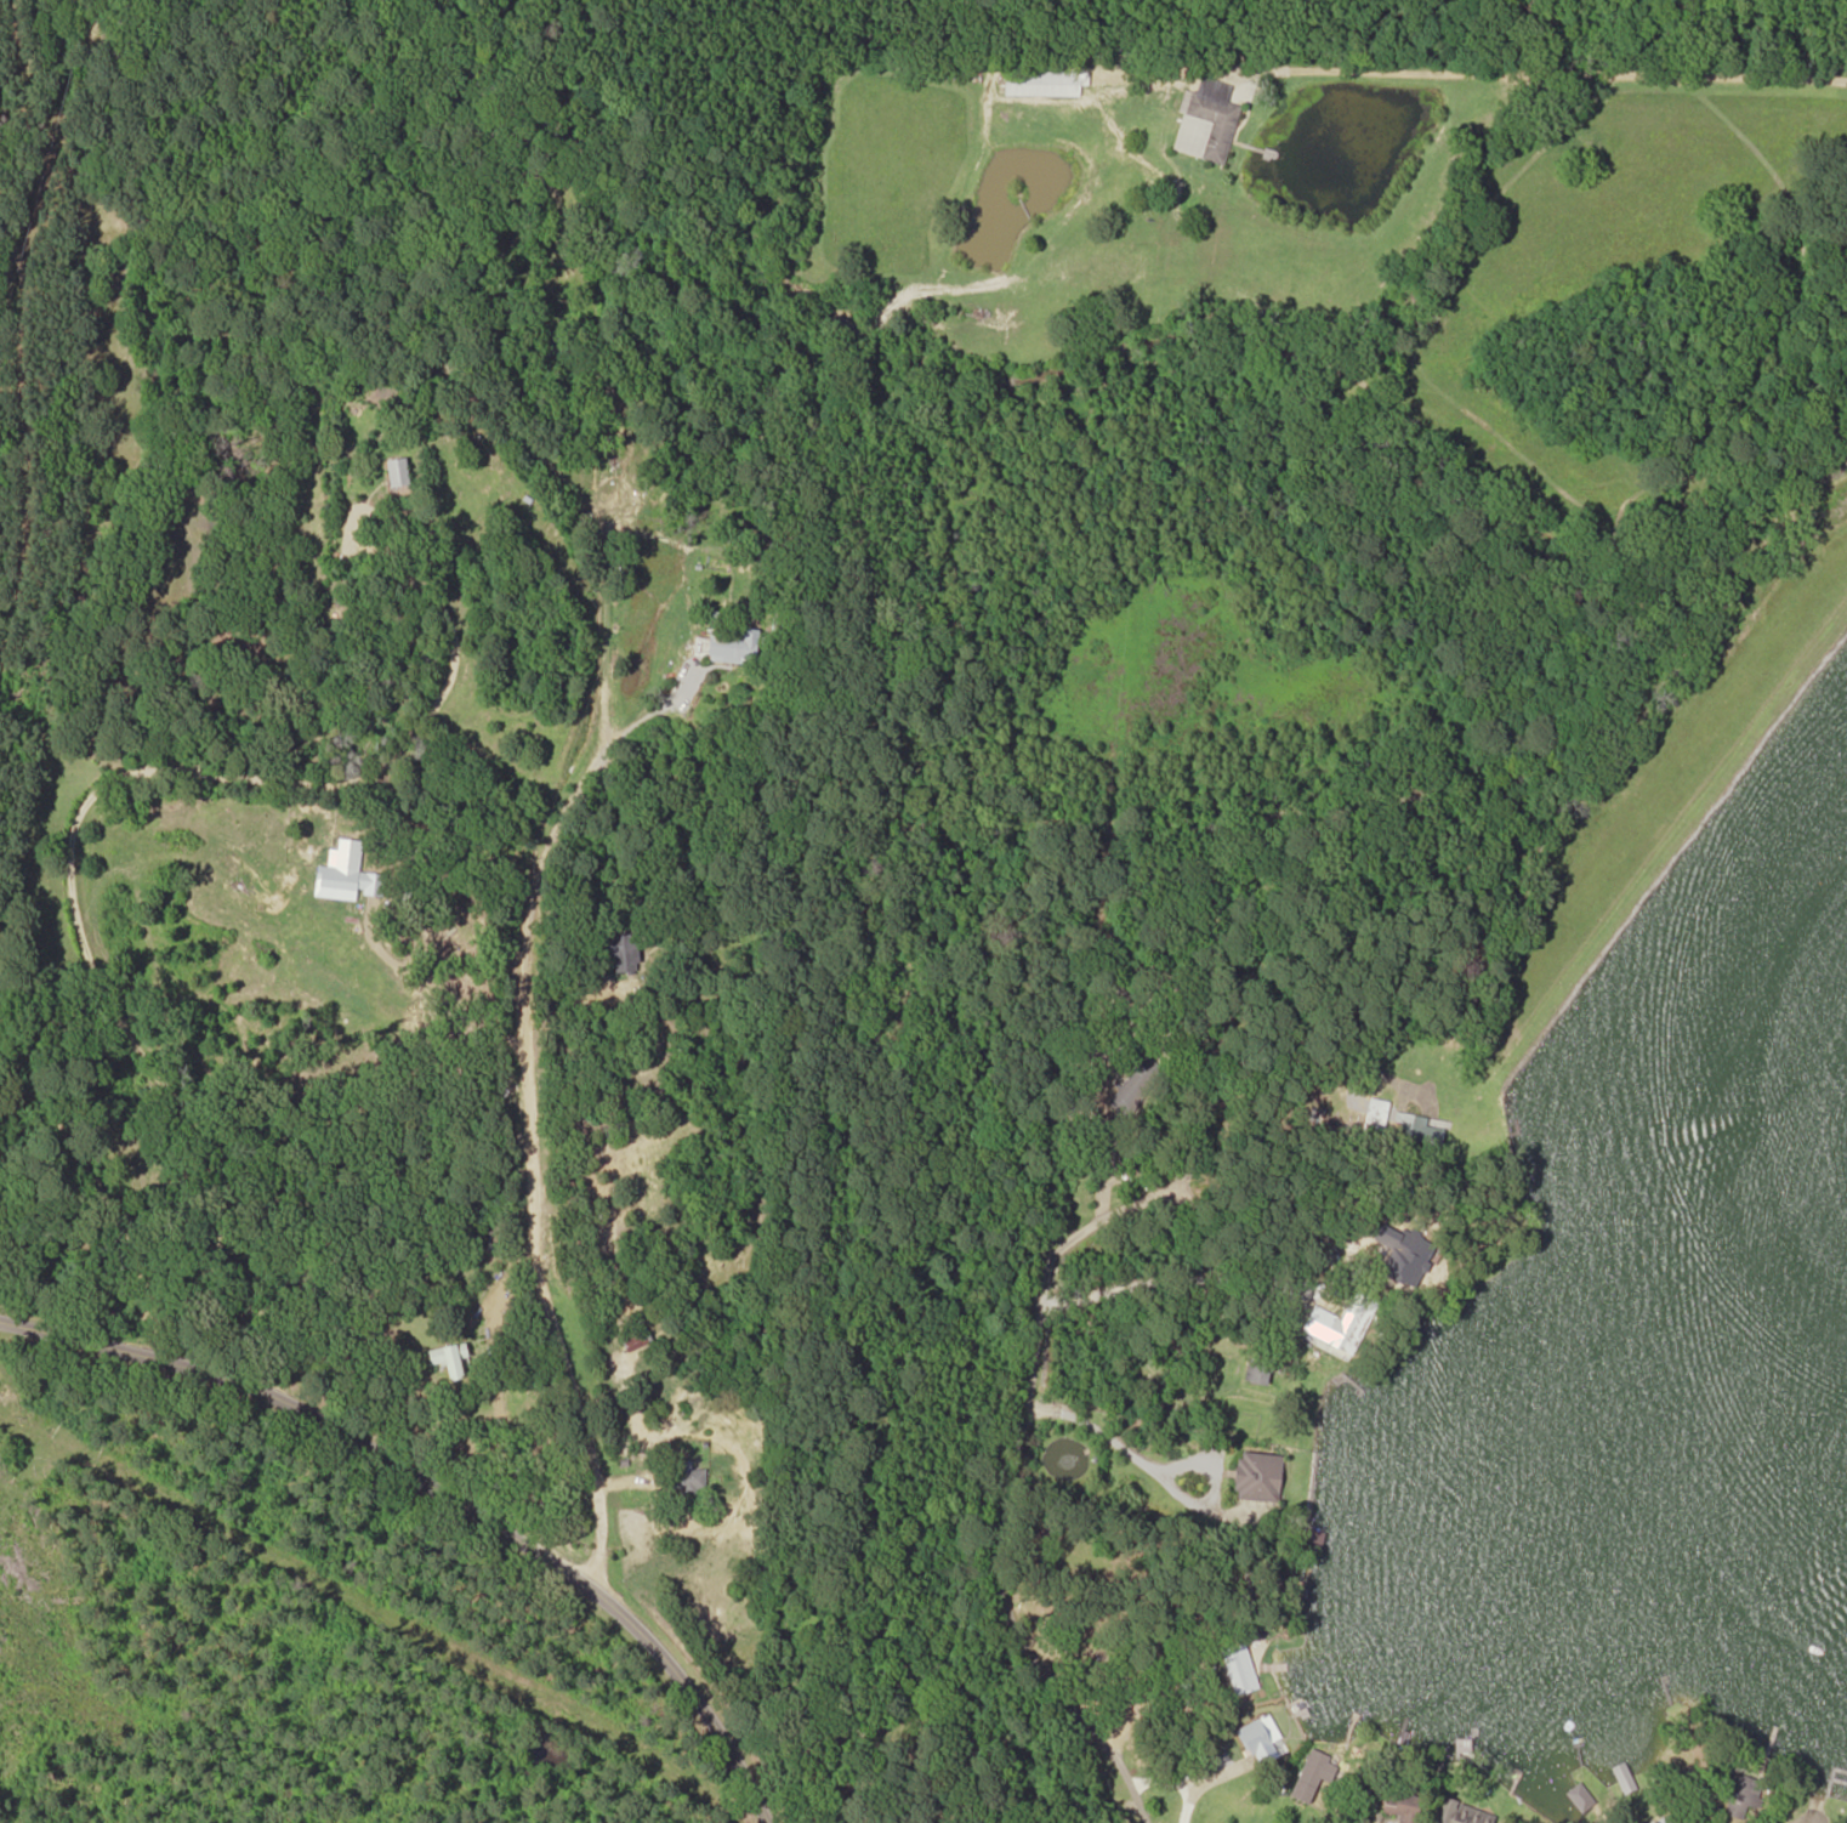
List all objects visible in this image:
building: (1047, 84)
building: (1205, 121)
building: (398, 472)
building: (732, 646)
building: (345, 851)
building: (624, 953)
building: (1374, 1124)
road: (529, 1163)
building: (1415, 1248)
building: (1346, 1319)
building: (636, 1339)
road: (1024, 1345)
building: (449, 1361)
building: (1261, 1369)
building: (686, 1477)
building: (1260, 1477)
road: (438, 1490)
building: (1312, 1541)
building: (1240, 1669)
building: (1260, 1742)
building: (1312, 1776)
building: (1740, 1793)
building: (1404, 1806)
building: (1465, 1817)
road: (765, 1822)
building: (1671, 1822)

